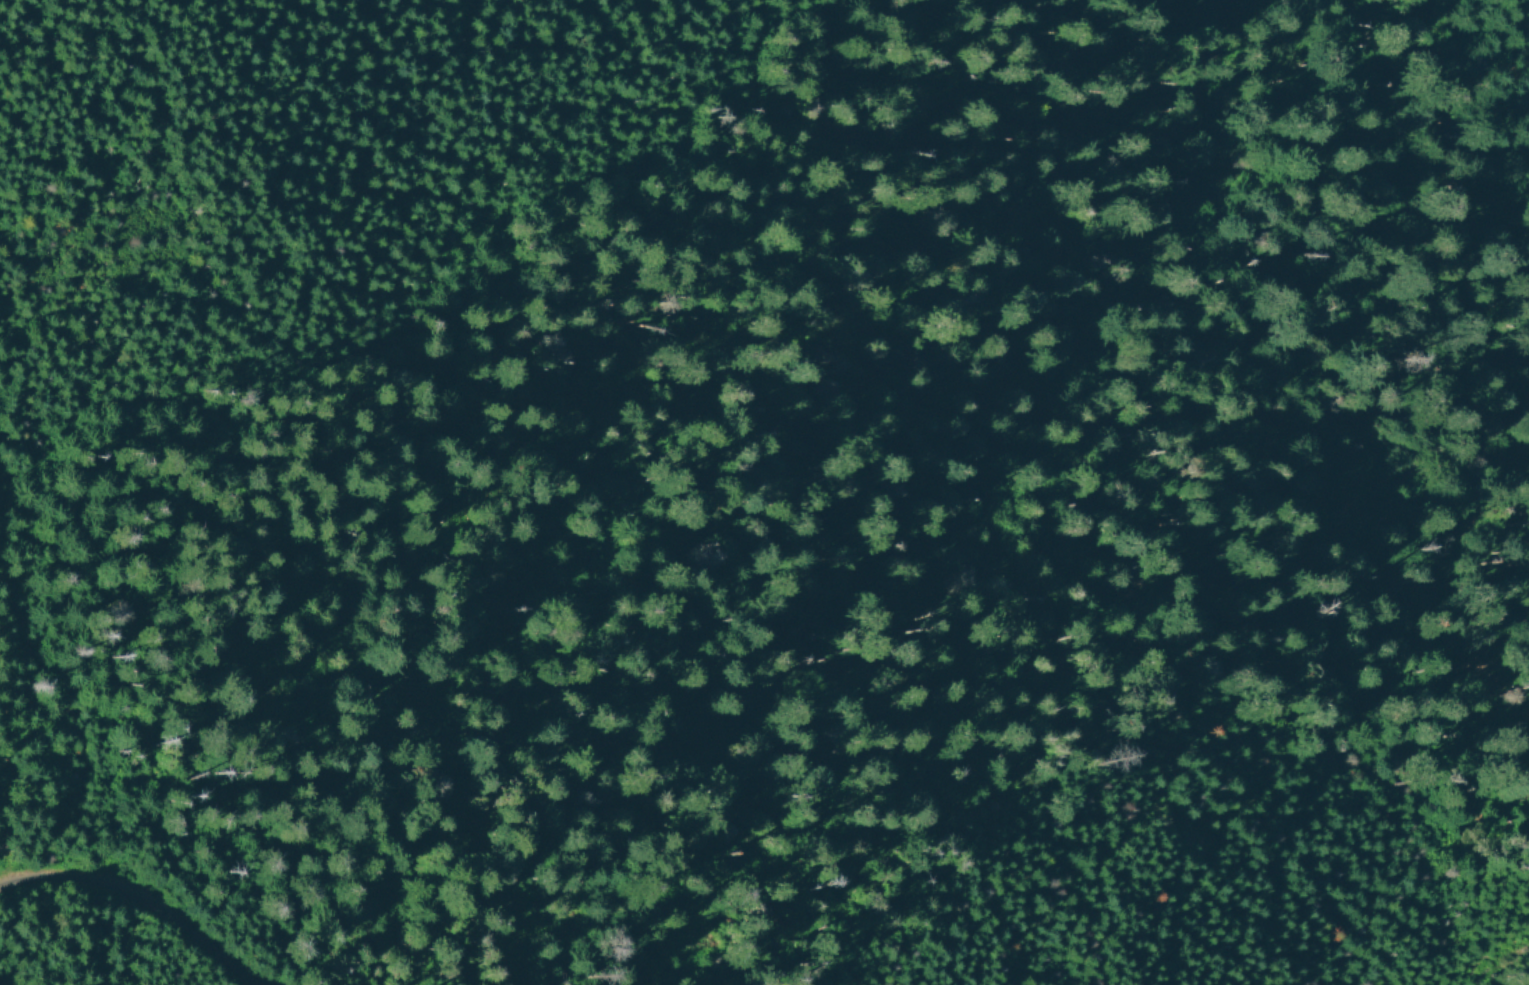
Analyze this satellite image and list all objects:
road: (142, 900)

